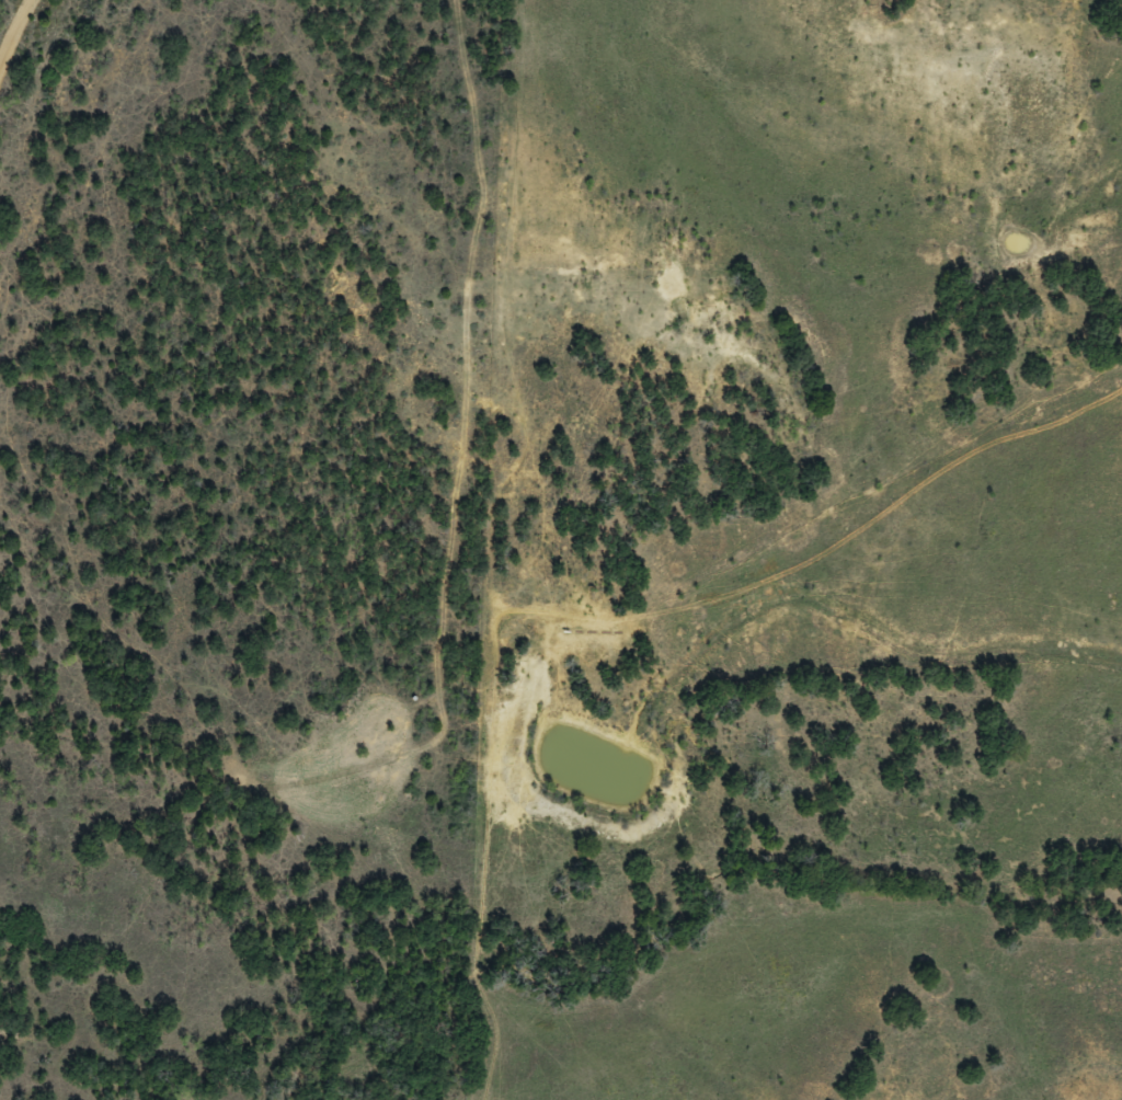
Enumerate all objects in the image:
road: (18, 8)

